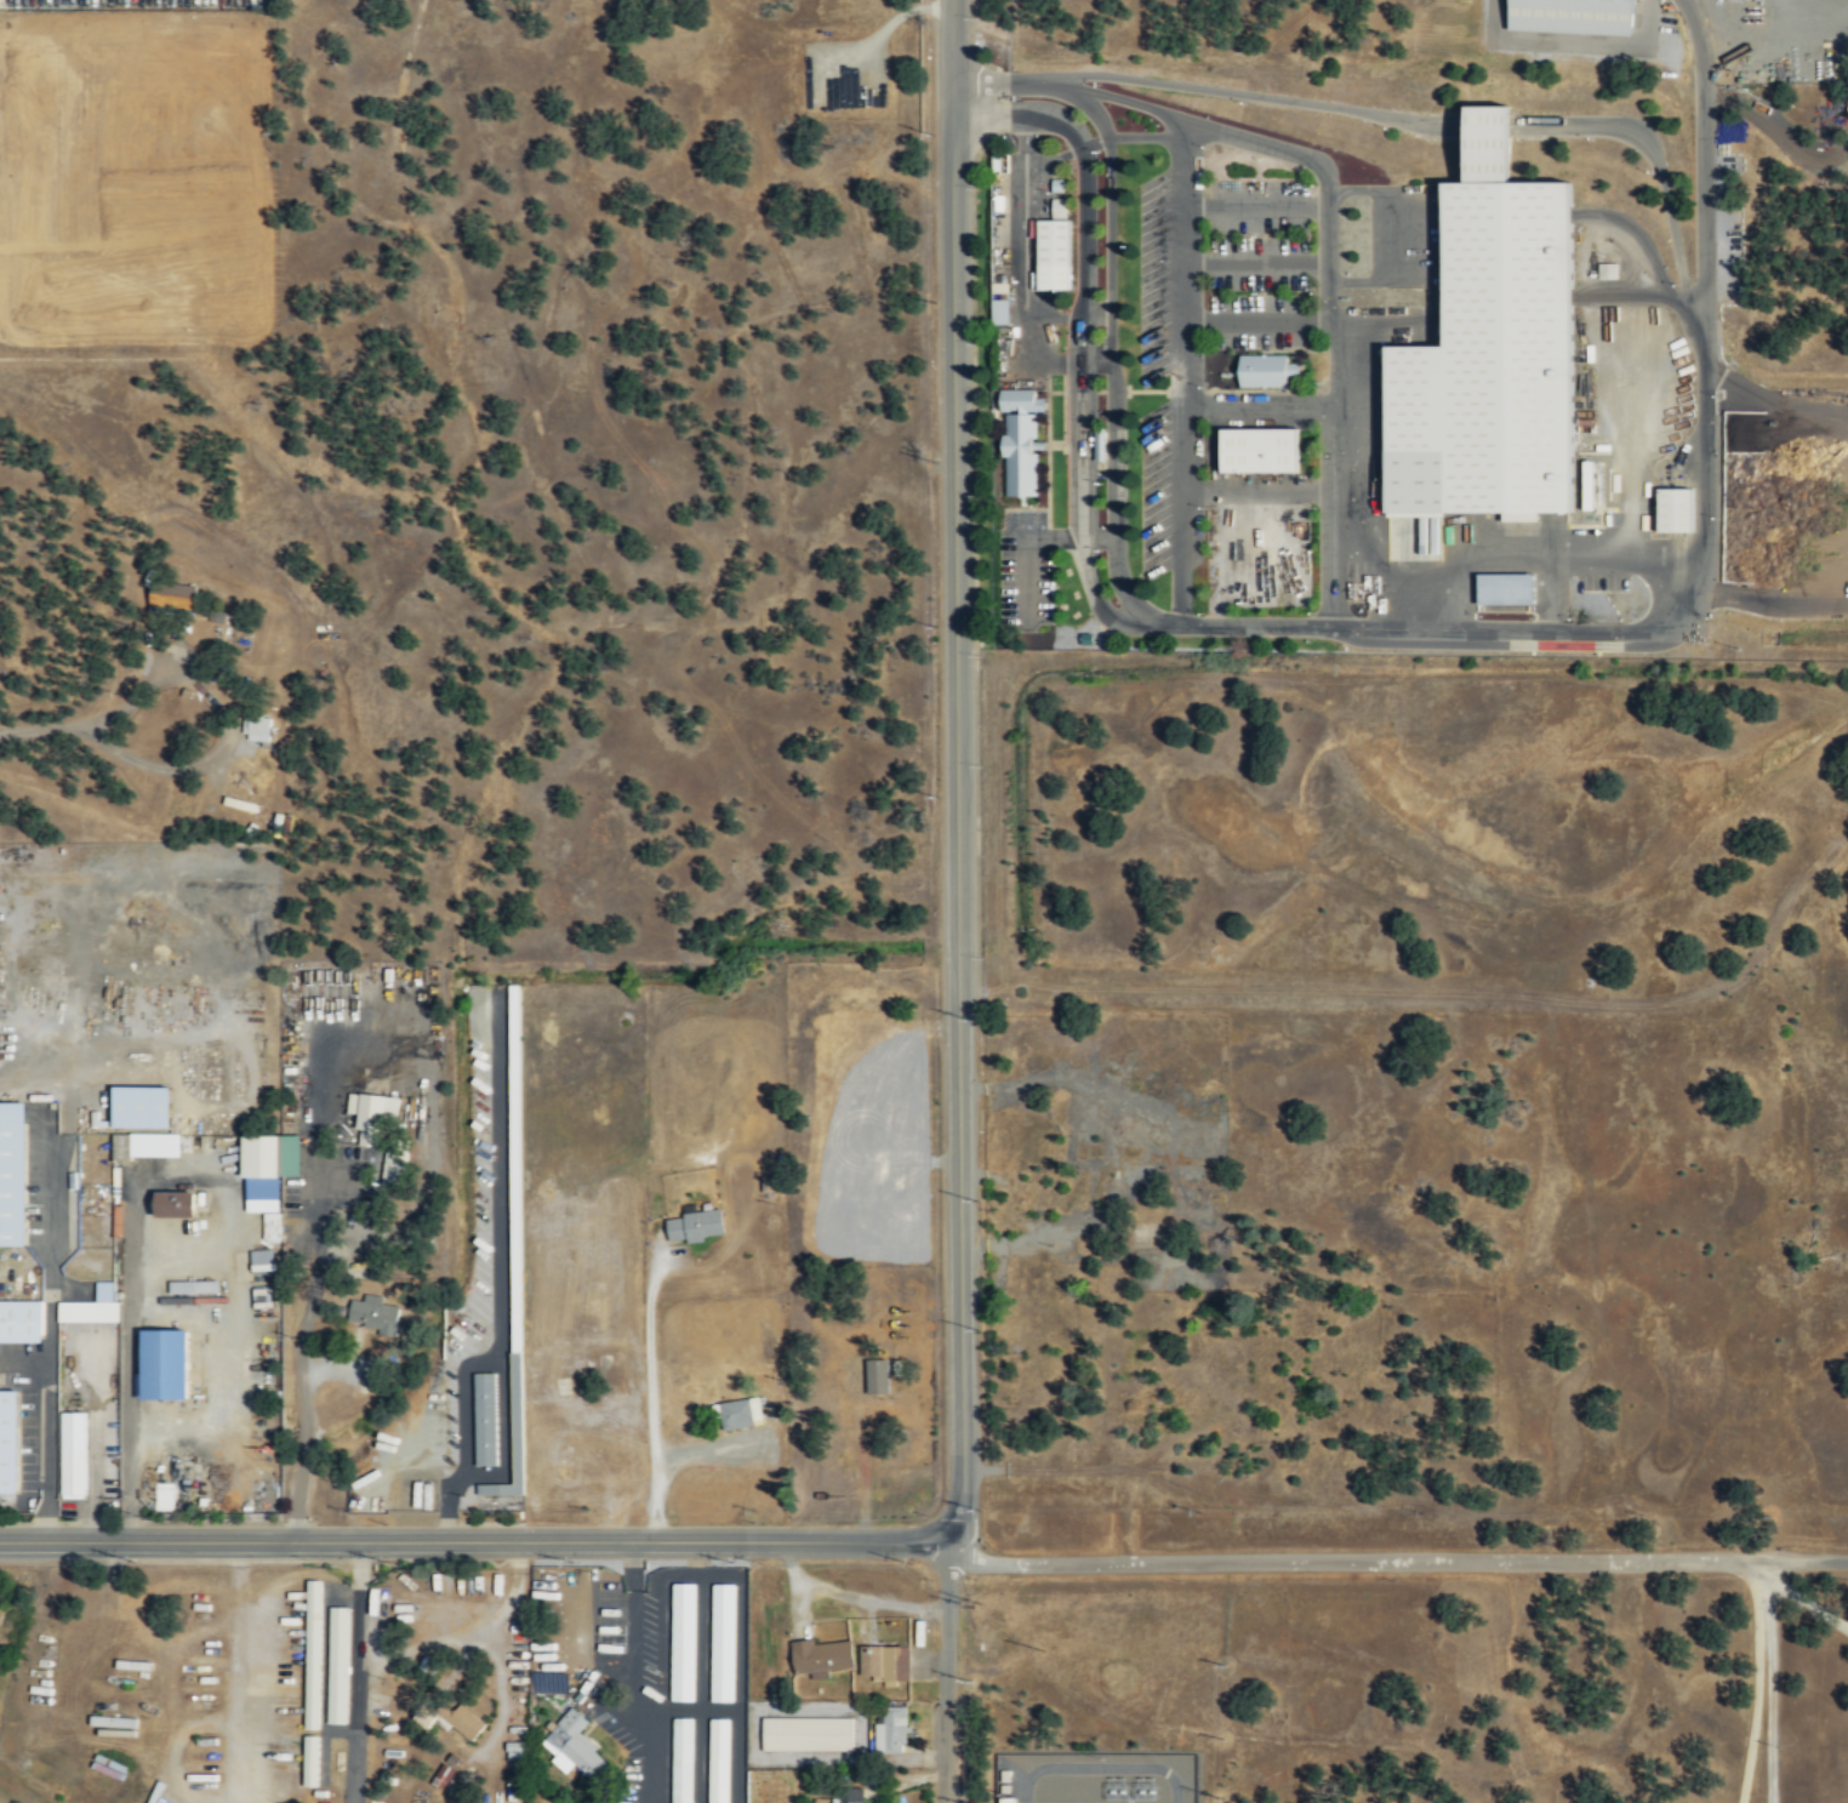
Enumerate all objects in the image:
building: (1569, 16)
road: (973, 42)
road: (1192, 122)
road: (1416, 122)
building: (1488, 139)
road: (1095, 143)
road: (1054, 158)
building: (1057, 207)
road: (1257, 209)
road: (1026, 218)
road: (1393, 234)
road: (1639, 234)
building: (1051, 252)
road: (1257, 263)
building: (1607, 270)
road: (1686, 291)
road: (1643, 297)
road: (1110, 301)
parking lot: (1213, 306)
building: (998, 312)
road: (1056, 318)
road: (1099, 318)
road: (1257, 321)
road: (1085, 341)
building: (1498, 350)
road: (1032, 365)
road: (1099, 365)
building: (1262, 369)
road: (1181, 371)
building: (1021, 399)
road: (1333, 403)
road: (1256, 406)
building: (1099, 443)
building: (1259, 449)
building: (1020, 452)
road: (1256, 487)
road: (1414, 492)
building: (1673, 510)
road: (1264, 531)
road: (1101, 538)
road: (1027, 549)
road: (1500, 560)
road: (1699, 564)
parking lot: (1026, 567)
building: (1504, 588)
building: (171, 599)
road: (229, 723)
building: (256, 726)
road: (47, 728)
road: (960, 771)
building: (141, 1108)
building: (373, 1117)
building: (270, 1160)
building: (394, 1165)
building: (12, 1175)
building: (172, 1205)
building: (694, 1225)
building: (270, 1227)
building: (261, 1260)
building: (90, 1307)
building: (373, 1314)
building: (21, 1320)
building: (162, 1365)
building: (875, 1376)
building: (894, 1410)
building: (738, 1414)
building: (484, 1419)
building: (8, 1442)
building: (72, 1455)
road: (478, 1540)
road: (1397, 1559)
power tower: (973, 1605)
building: (681, 1641)
building: (721, 1642)
building: (312, 1654)
building: (819, 1654)
building: (883, 1661)
building: (337, 1665)
road: (947, 1672)
road: (1769, 1681)
building: (463, 1721)
building: (889, 1730)
building: (806, 1733)
building: (572, 1746)
building: (680, 1759)
building: (718, 1759)
building: (309, 1761)
building: (441, 1775)
power substation: (1097, 1778)
building: (850, 1793)

